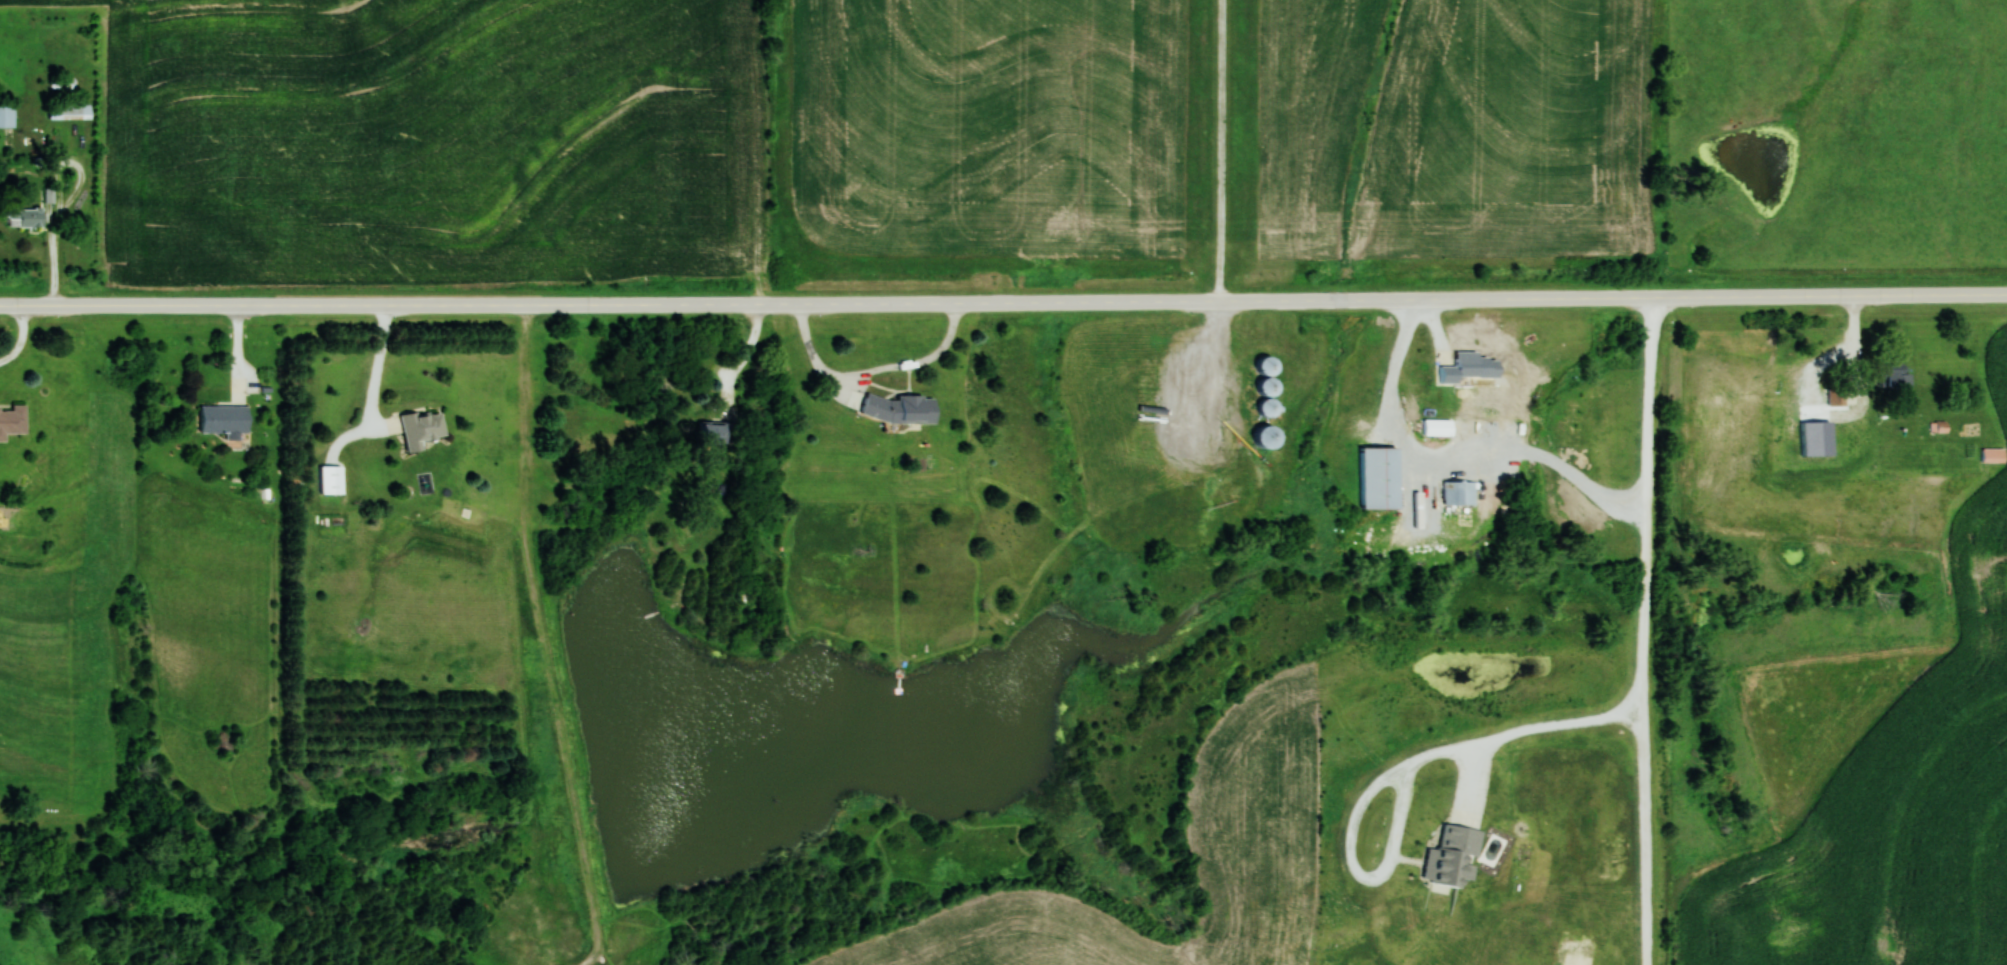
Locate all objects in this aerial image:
building: (70, 110)
building: (7, 115)
building: (27, 216)
road: (1003, 302)
building: (1270, 366)
building: (1452, 370)
building: (1889, 376)
building: (1833, 395)
building: (902, 408)
building: (225, 417)
building: (13, 420)
building: (1431, 426)
building: (424, 428)
building: (716, 431)
building: (1271, 435)
building: (1372, 476)
building: (333, 479)
building: (1455, 492)
dam: (564, 743)
building: (1447, 856)

